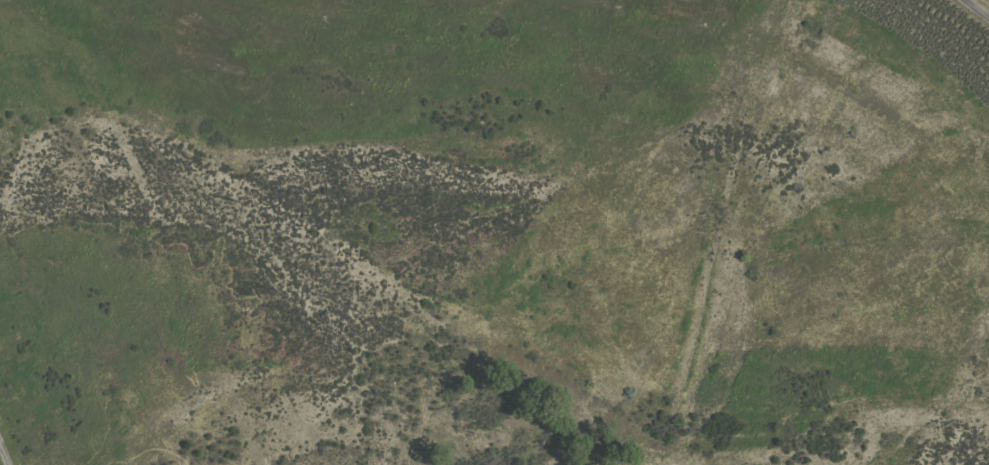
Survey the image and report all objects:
road: (977, 10)
road: (3, 456)

